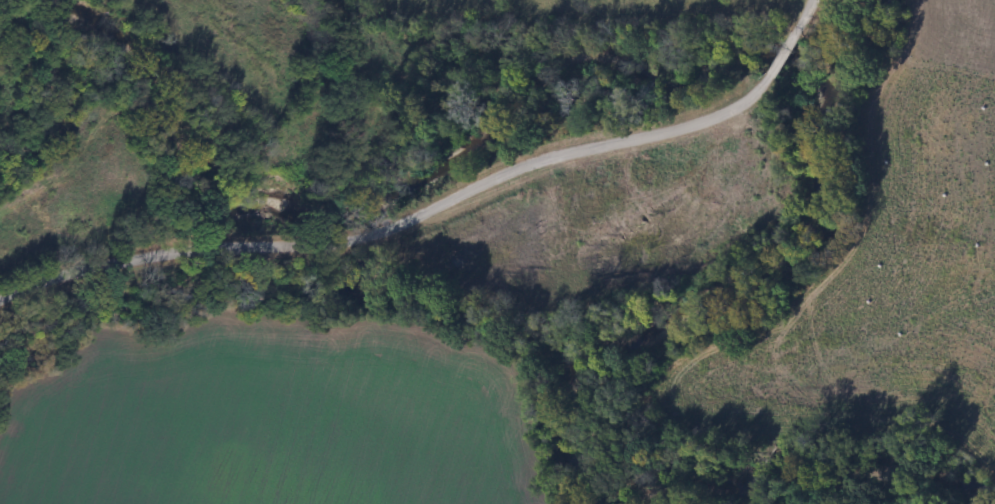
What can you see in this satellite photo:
road: (803, 15)
river: (779, 53)
road: (781, 54)
road: (391, 218)

